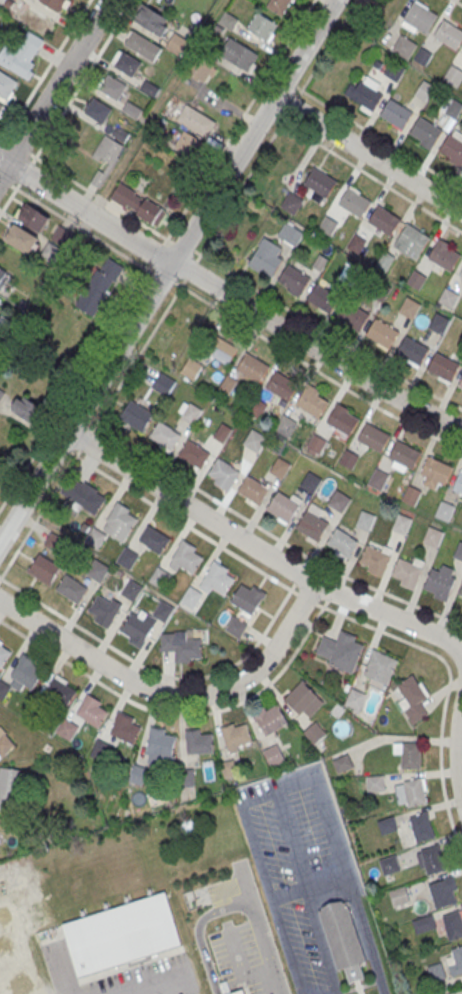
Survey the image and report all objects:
road: (458, 2)
building: (56, 4)
building: (278, 5)
building: (420, 17)
building: (152, 20)
building: (261, 27)
building: (449, 35)
building: (176, 45)
building: (142, 46)
road: (326, 48)
building: (404, 48)
building: (22, 54)
building: (238, 55)
building: (422, 58)
building: (127, 64)
building: (202, 70)
road: (45, 71)
building: (395, 71)
building: (453, 77)
road: (82, 80)
road: (290, 84)
building: (6, 85)
road: (54, 88)
building: (112, 88)
building: (366, 97)
road: (159, 106)
road: (291, 106)
building: (1, 107)
building: (454, 109)
building: (132, 110)
building: (97, 111)
road: (271, 114)
building: (396, 115)
road: (238, 120)
building: (195, 121)
building: (425, 132)
road: (378, 137)
road: (4, 138)
road: (0, 143)
building: (186, 144)
road: (19, 146)
building: (453, 149)
road: (368, 155)
building: (106, 159)
road: (26, 171)
road: (368, 174)
road: (4, 180)
building: (320, 183)
road: (240, 188)
road: (102, 197)
road: (10, 198)
building: (354, 203)
building: (291, 204)
building: (139, 205)
building: (33, 218)
building: (384, 221)
building: (330, 225)
road: (81, 227)
building: (290, 235)
building: (21, 239)
building: (411, 242)
building: (356, 245)
road: (184, 246)
road: (158, 253)
building: (266, 257)
building: (443, 257)
building: (385, 262)
road: (166, 270)
road: (191, 270)
building: (350, 275)
building: (461, 275)
road: (165, 276)
building: (3, 277)
building: (294, 280)
building: (416, 281)
building: (99, 287)
building: (382, 293)
road: (229, 296)
building: (323, 299)
building: (449, 299)
building: (409, 309)
building: (353, 317)
building: (438, 324)
building: (5, 330)
road: (326, 332)
building: (382, 334)
building: (221, 351)
building: (412, 352)
road: (137, 354)
building: (443, 367)
building: (253, 368)
road: (316, 369)
building: (191, 370)
building: (460, 384)
building: (164, 385)
building: (282, 386)
road: (75, 387)
building: (312, 404)
building: (257, 409)
building: (27, 411)
building: (192, 414)
building: (136, 415)
road: (83, 417)
building: (342, 422)
building: (286, 426)
building: (165, 436)
road: (85, 438)
building: (374, 439)
building: (254, 441)
building: (316, 445)
road: (64, 448)
building: (194, 455)
building: (405, 456)
building: (349, 461)
building: (280, 469)
building: (436, 471)
building: (223, 474)
building: (378, 480)
building: (310, 483)
building: (458, 484)
building: (253, 491)
building: (83, 495)
building: (412, 496)
building: (339, 502)
building: (282, 509)
road: (39, 512)
building: (444, 512)
road: (182, 520)
building: (365, 522)
building: (119, 523)
building: (402, 525)
building: (312, 526)
road: (269, 531)
building: (433, 537)
building: (96, 540)
building: (154, 541)
building: (54, 543)
building: (342, 544)
road: (260, 552)
building: (459, 552)
building: (127, 559)
building: (187, 560)
building: (375, 561)
building: (44, 570)
building: (98, 572)
building: (407, 574)
building: (159, 578)
road: (296, 578)
building: (218, 579)
building: (439, 585)
building: (72, 590)
building: (132, 590)
road: (329, 595)
building: (460, 595)
road: (305, 596)
building: (192, 598)
building: (247, 600)
building: (105, 611)
building: (163, 612)
building: (236, 628)
building: (136, 631)
building: (182, 646)
building: (340, 650)
building: (4, 656)
building: (380, 667)
road: (156, 671)
building: (27, 673)
road: (447, 689)
building: (60, 692)
road: (169, 694)
building: (411, 697)
building: (304, 700)
building: (355, 700)
building: (92, 711)
road: (177, 712)
building: (271, 721)
building: (126, 729)
building: (236, 738)
building: (198, 743)
building: (5, 746)
building: (160, 746)
road: (456, 754)
building: (273, 756)
building: (411, 757)
building: (342, 764)
building: (375, 785)
building: (9, 788)
building: (414, 793)
building: (388, 827)
building: (421, 828)
building: (432, 861)
building: (389, 866)
parking lot: (299, 867)
building: (444, 894)
building: (399, 897)
road: (232, 906)
road: (360, 922)
building: (425, 926)
building: (453, 926)
building: (122, 936)
building: (344, 939)
road: (325, 951)
building: (13, 954)
parking lot: (238, 959)
building: (458, 959)
road: (61, 973)
parking lot: (121, 975)
road: (377, 980)
road: (156, 986)
road: (358, 986)
road: (359, 988)
road: (458, 992)
building: (242, 993)

